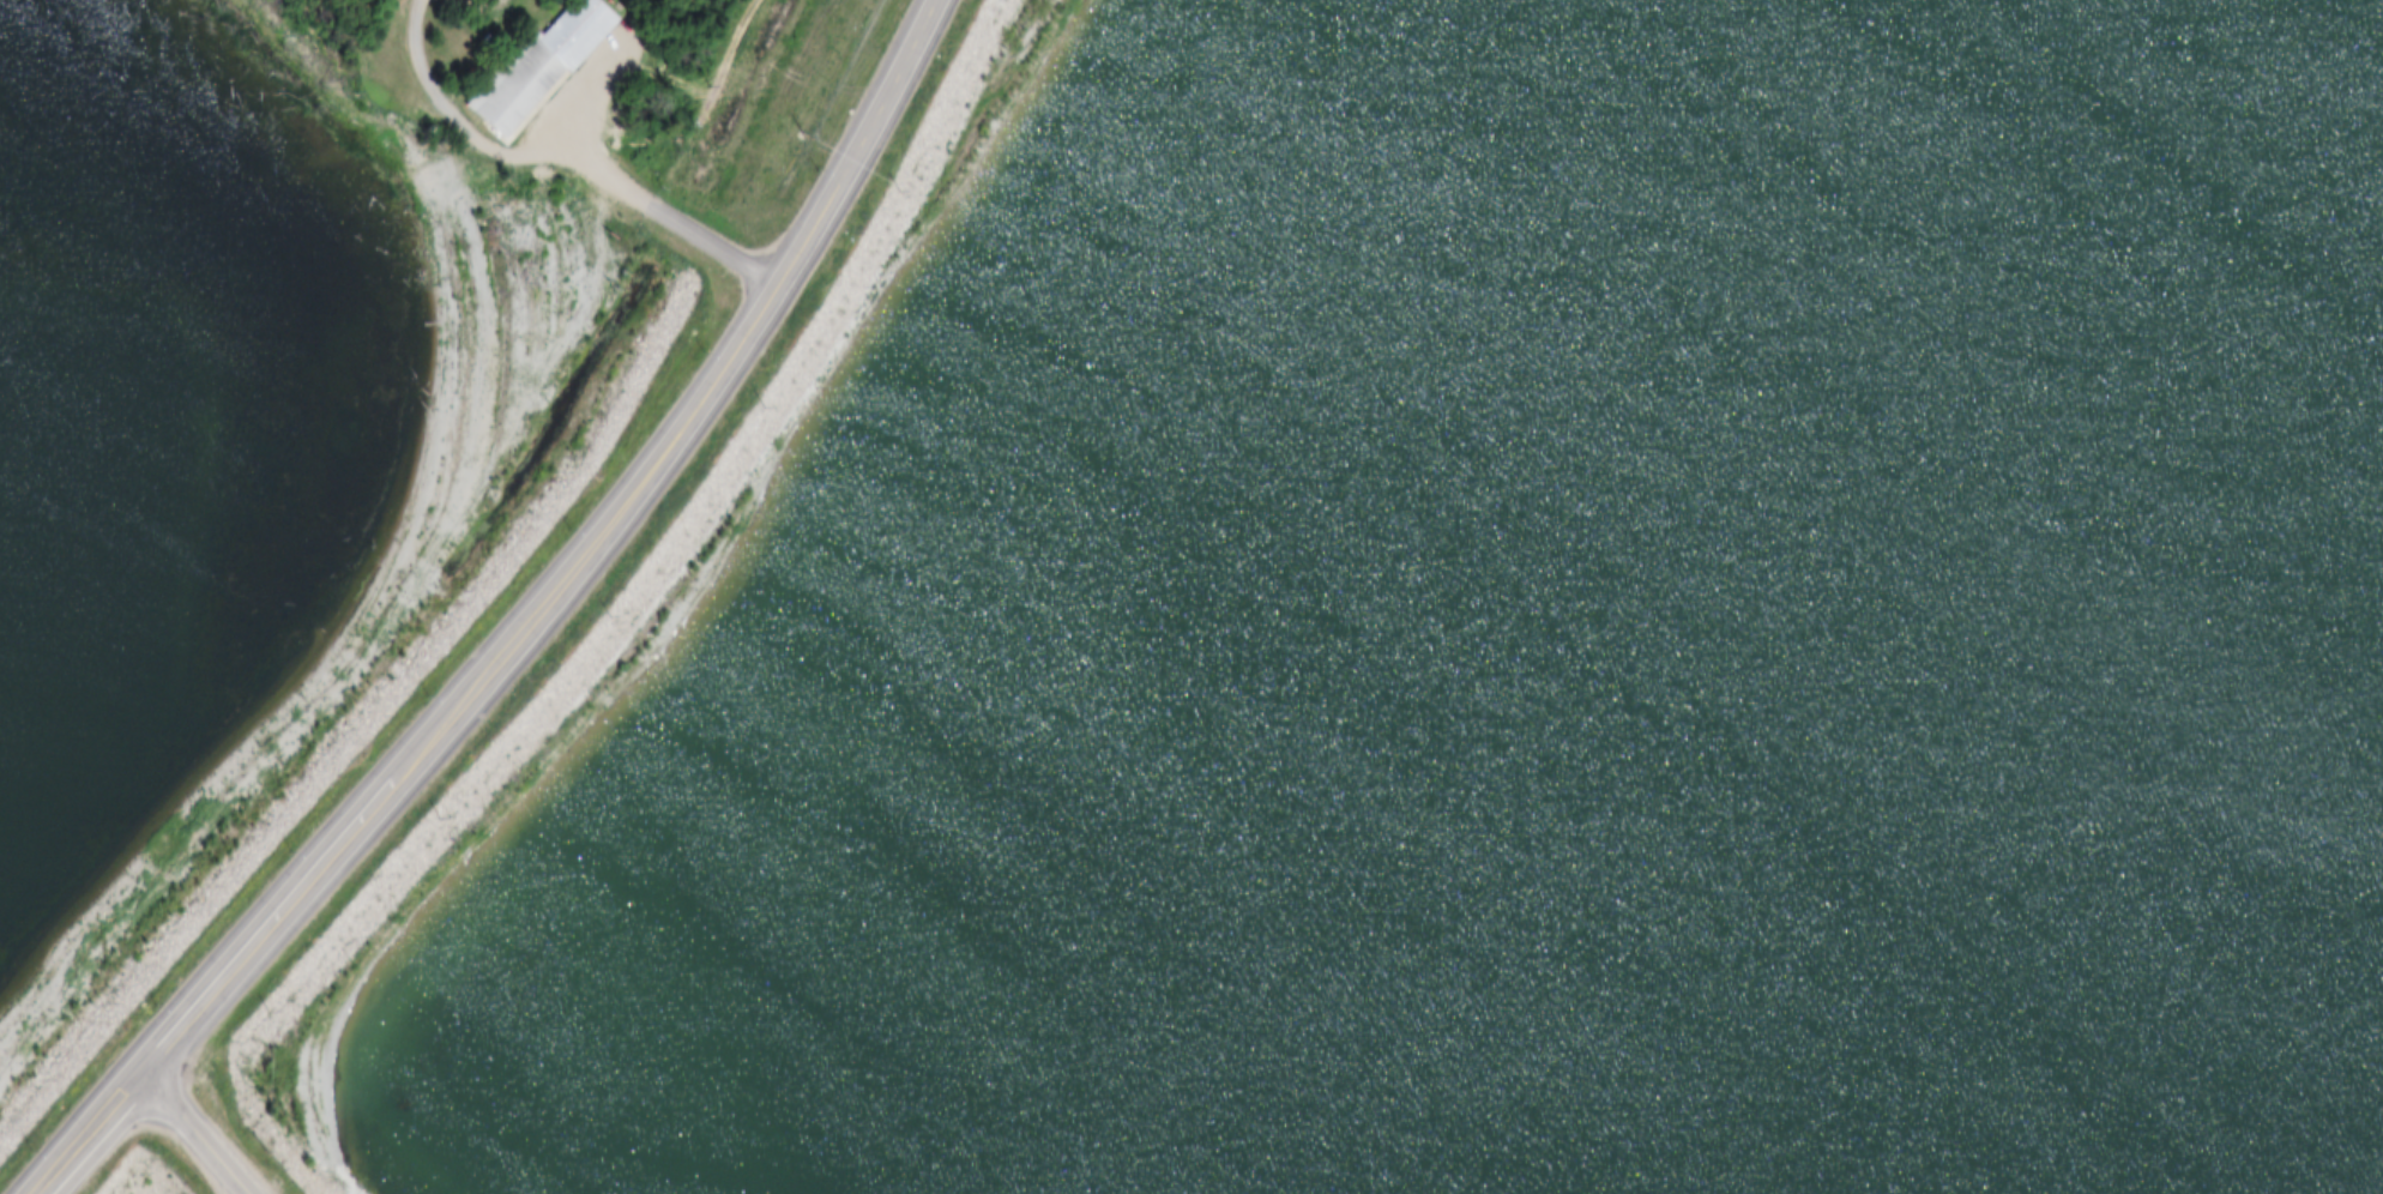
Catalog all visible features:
building: (505, 8)
building: (521, 60)
road: (577, 95)
road: (426, 104)
road: (633, 195)
road: (647, 405)
road: (267, 894)
road: (79, 1108)
road: (229, 1108)

